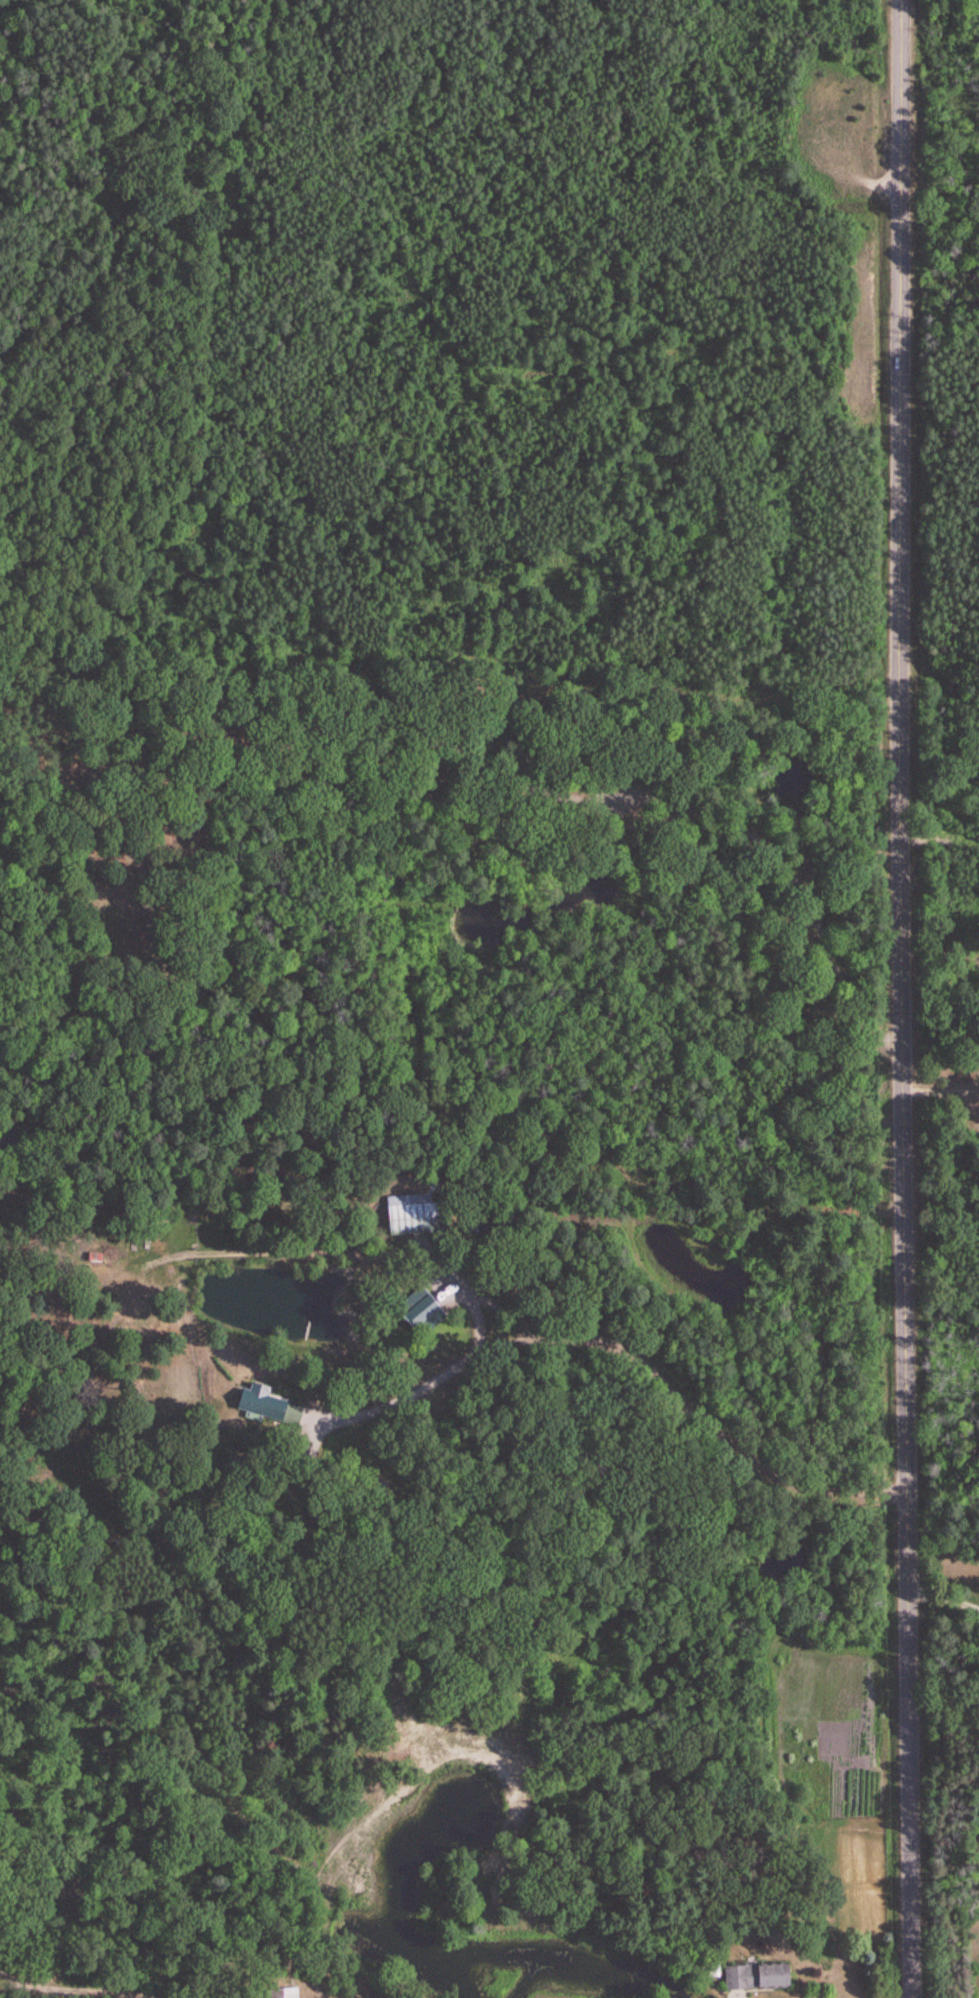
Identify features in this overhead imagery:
road: (900, 999)
building: (410, 1214)
building: (262, 1406)
road: (943, 1599)
building: (753, 1978)
building: (278, 1994)

